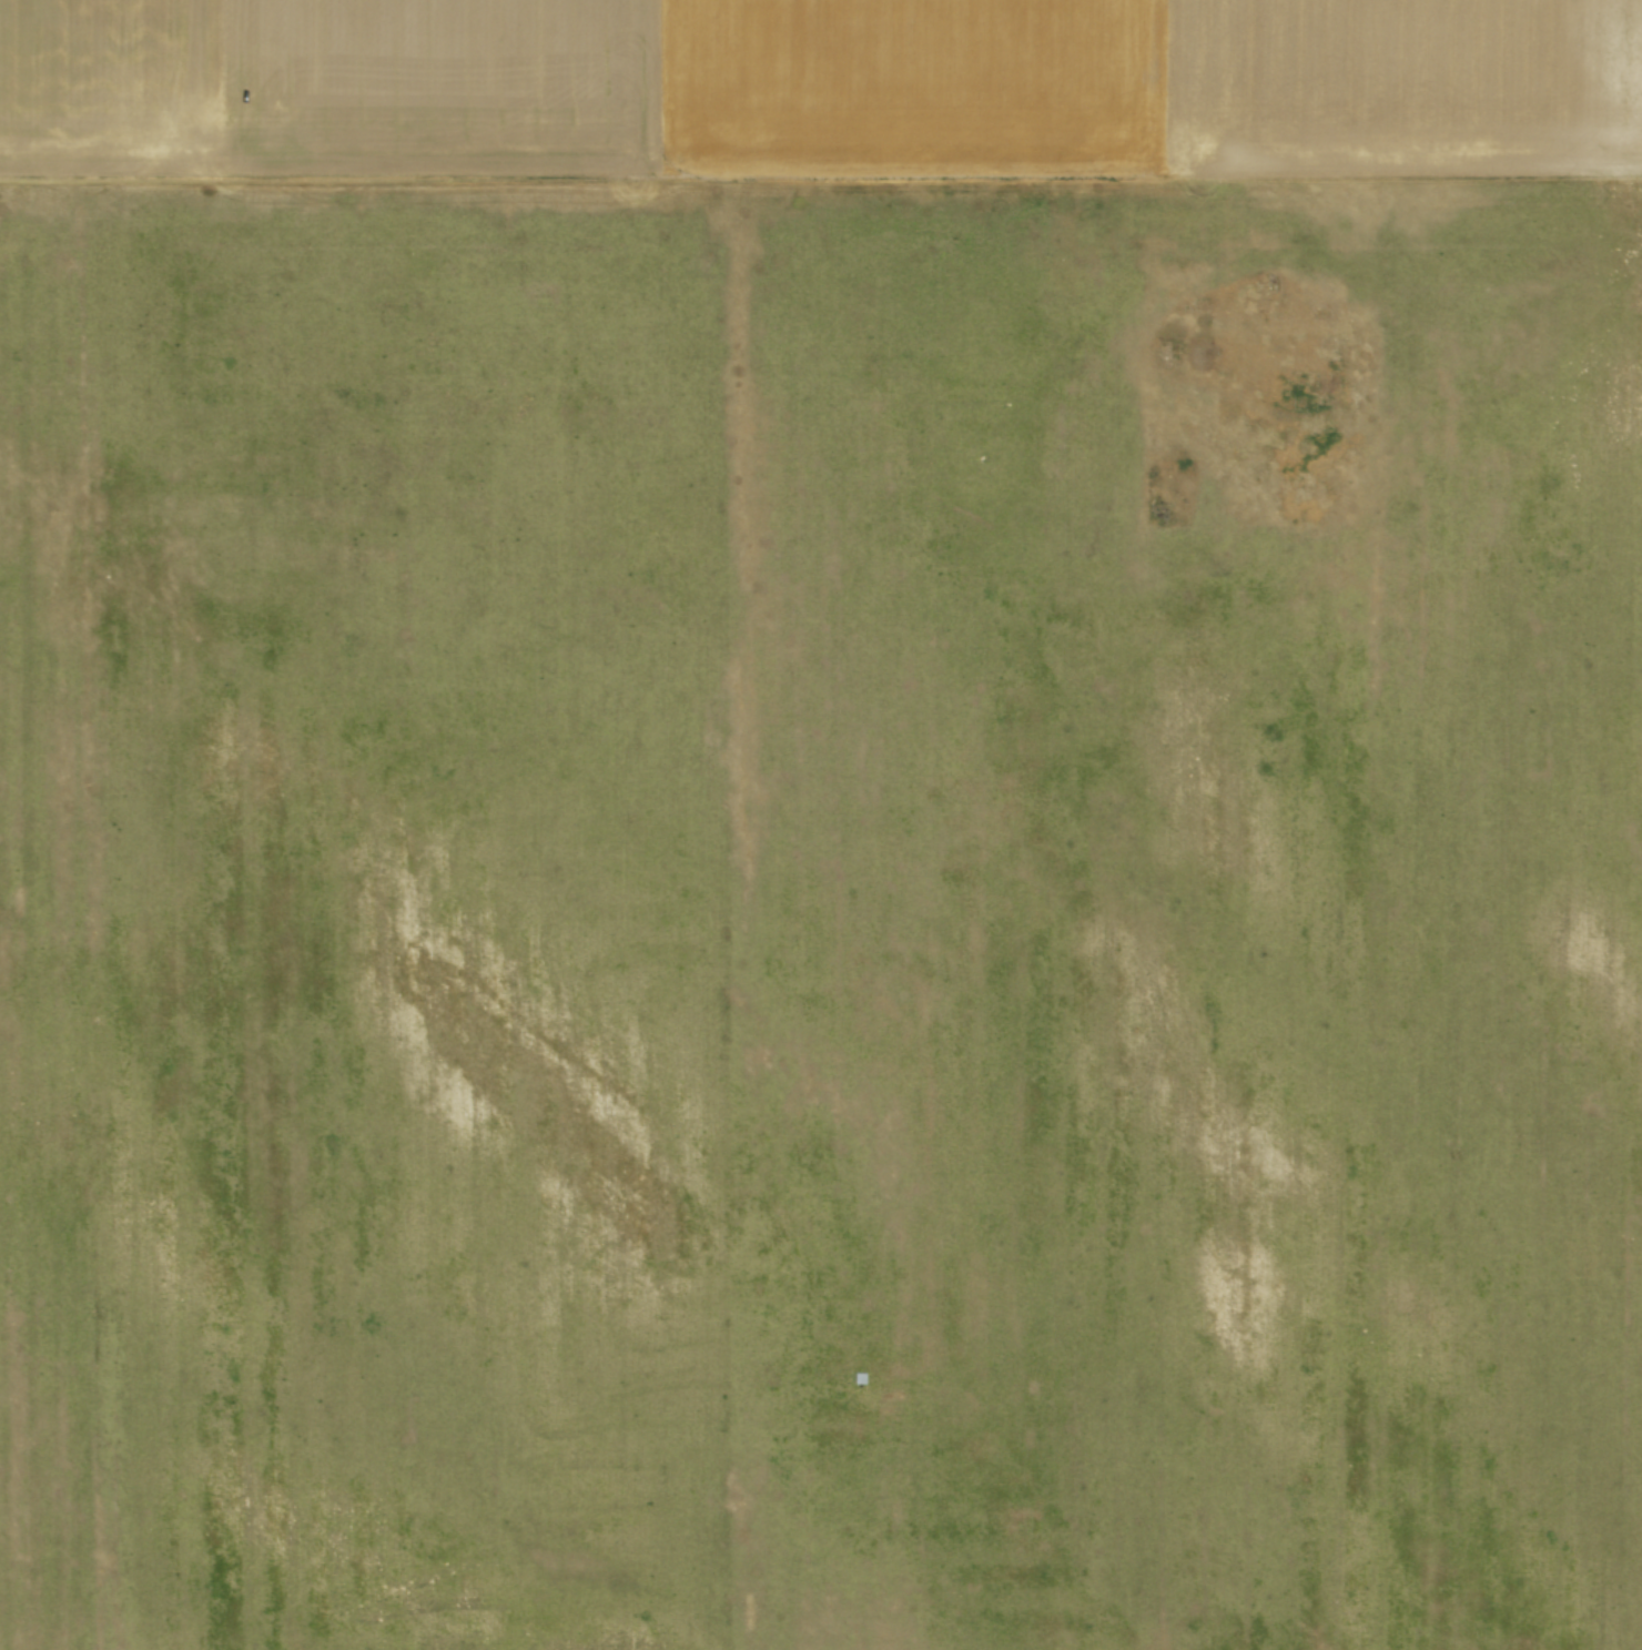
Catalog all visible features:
road: (820, 173)
crop: (821, 824)

